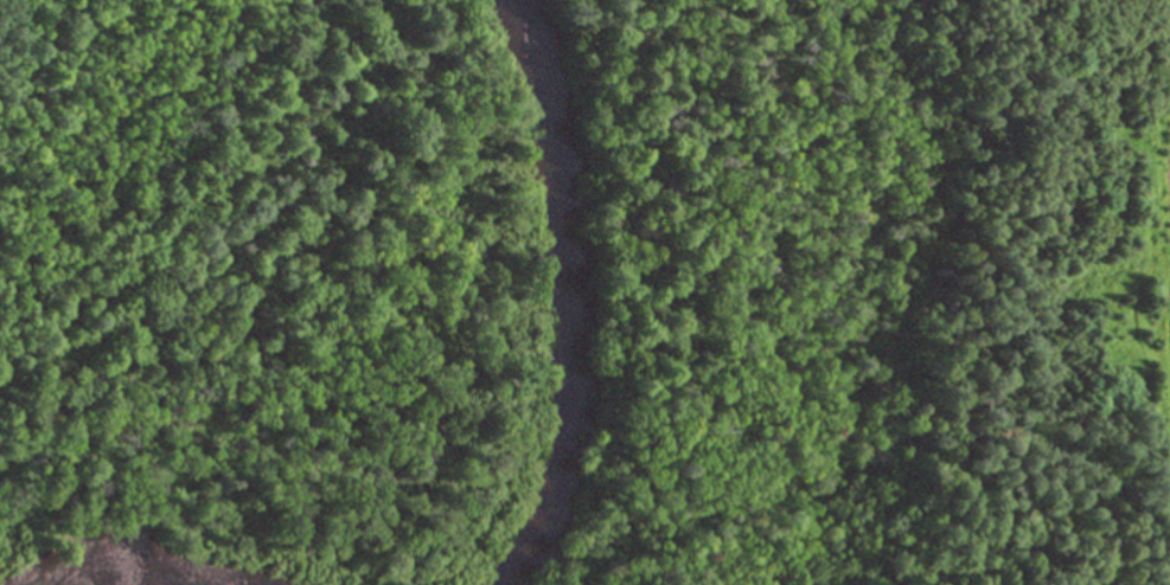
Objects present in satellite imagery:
river: (565, 274)
river: (440, 568)
river: (110, 579)

